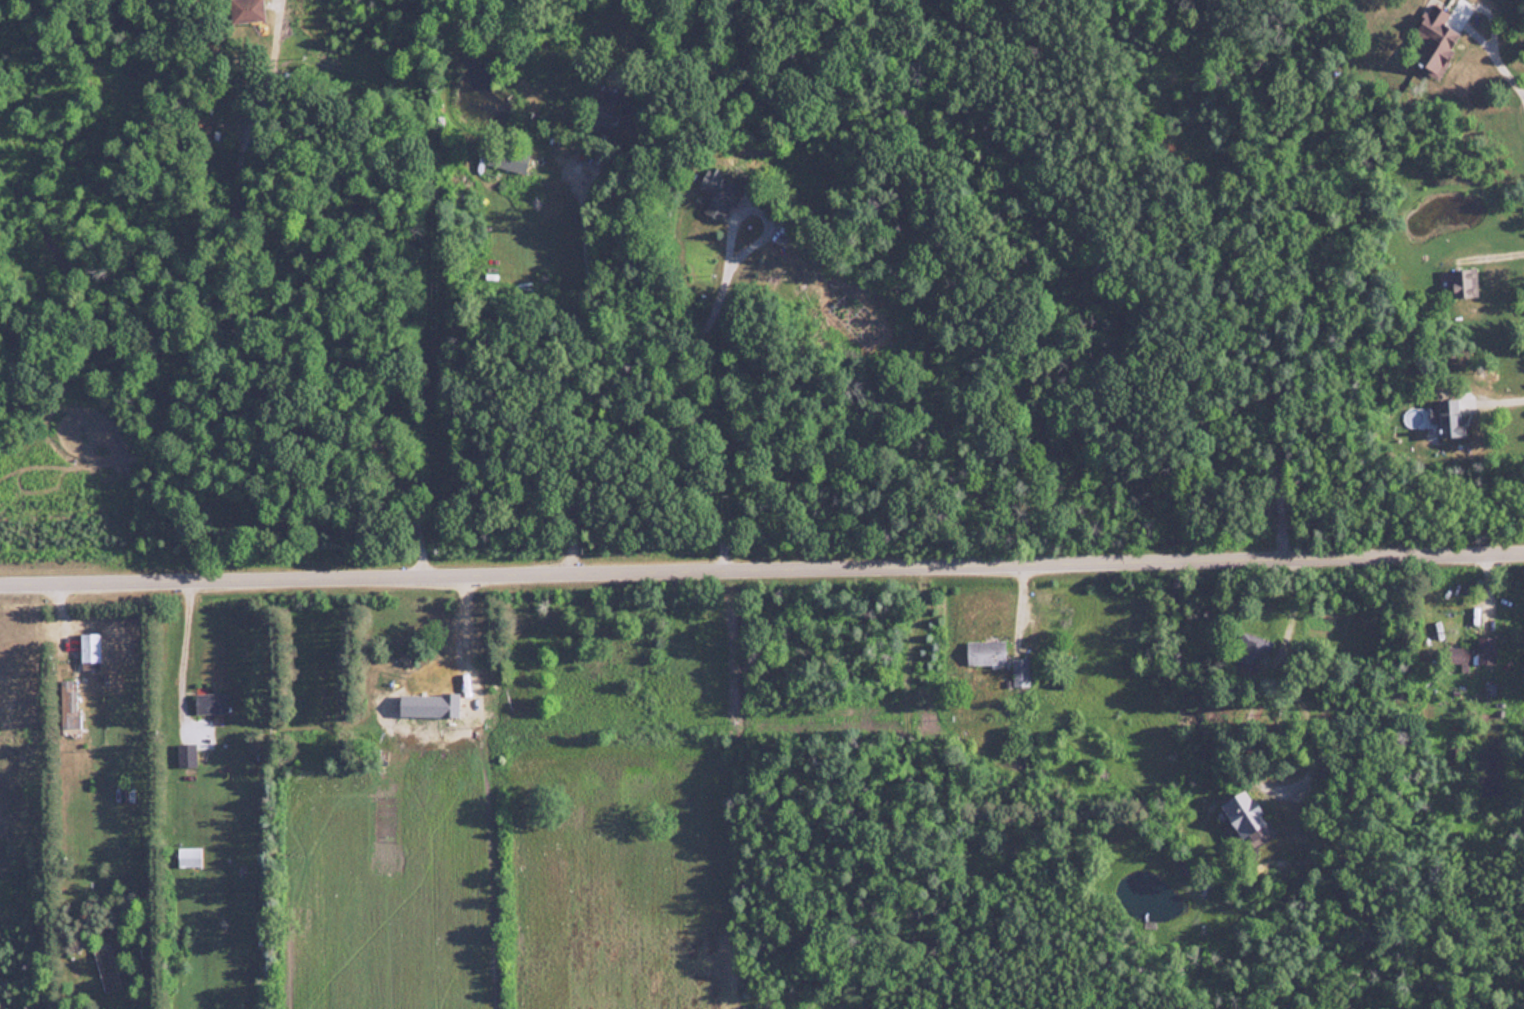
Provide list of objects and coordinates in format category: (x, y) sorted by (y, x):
building: (245, 11)
road: (1478, 22)
road: (1493, 22)
building: (1437, 39)
road: (1508, 64)
building: (615, 113)
building: (509, 157)
building: (720, 194)
building: (1465, 283)
building: (1449, 418)
road: (762, 580)
building: (1251, 649)
building: (91, 650)
building: (987, 653)
building: (1476, 653)
road: (182, 661)
building: (1021, 672)
building: (439, 685)
road: (1291, 691)
building: (70, 703)
building: (212, 703)
building: (187, 755)
building: (1455, 756)
building: (1247, 817)
building: (190, 857)

